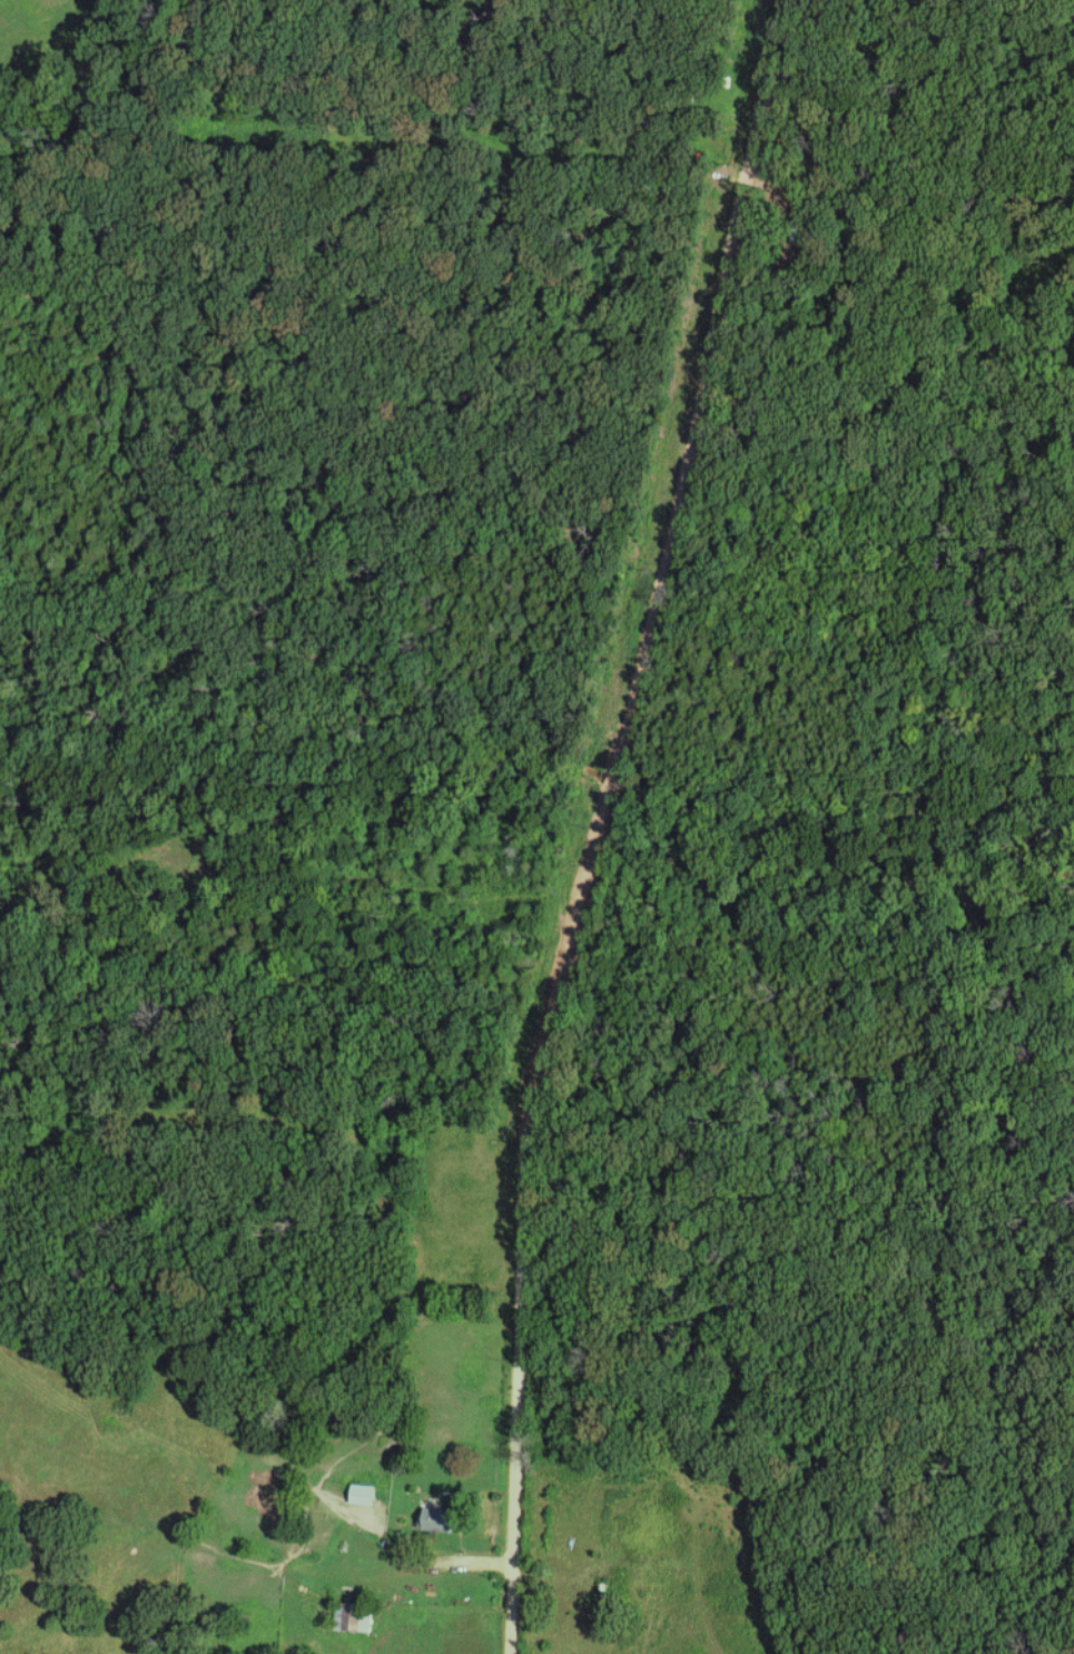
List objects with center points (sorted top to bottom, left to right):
road: (601, 817)
building: (364, 1494)
building: (442, 1518)
building: (349, 1617)

